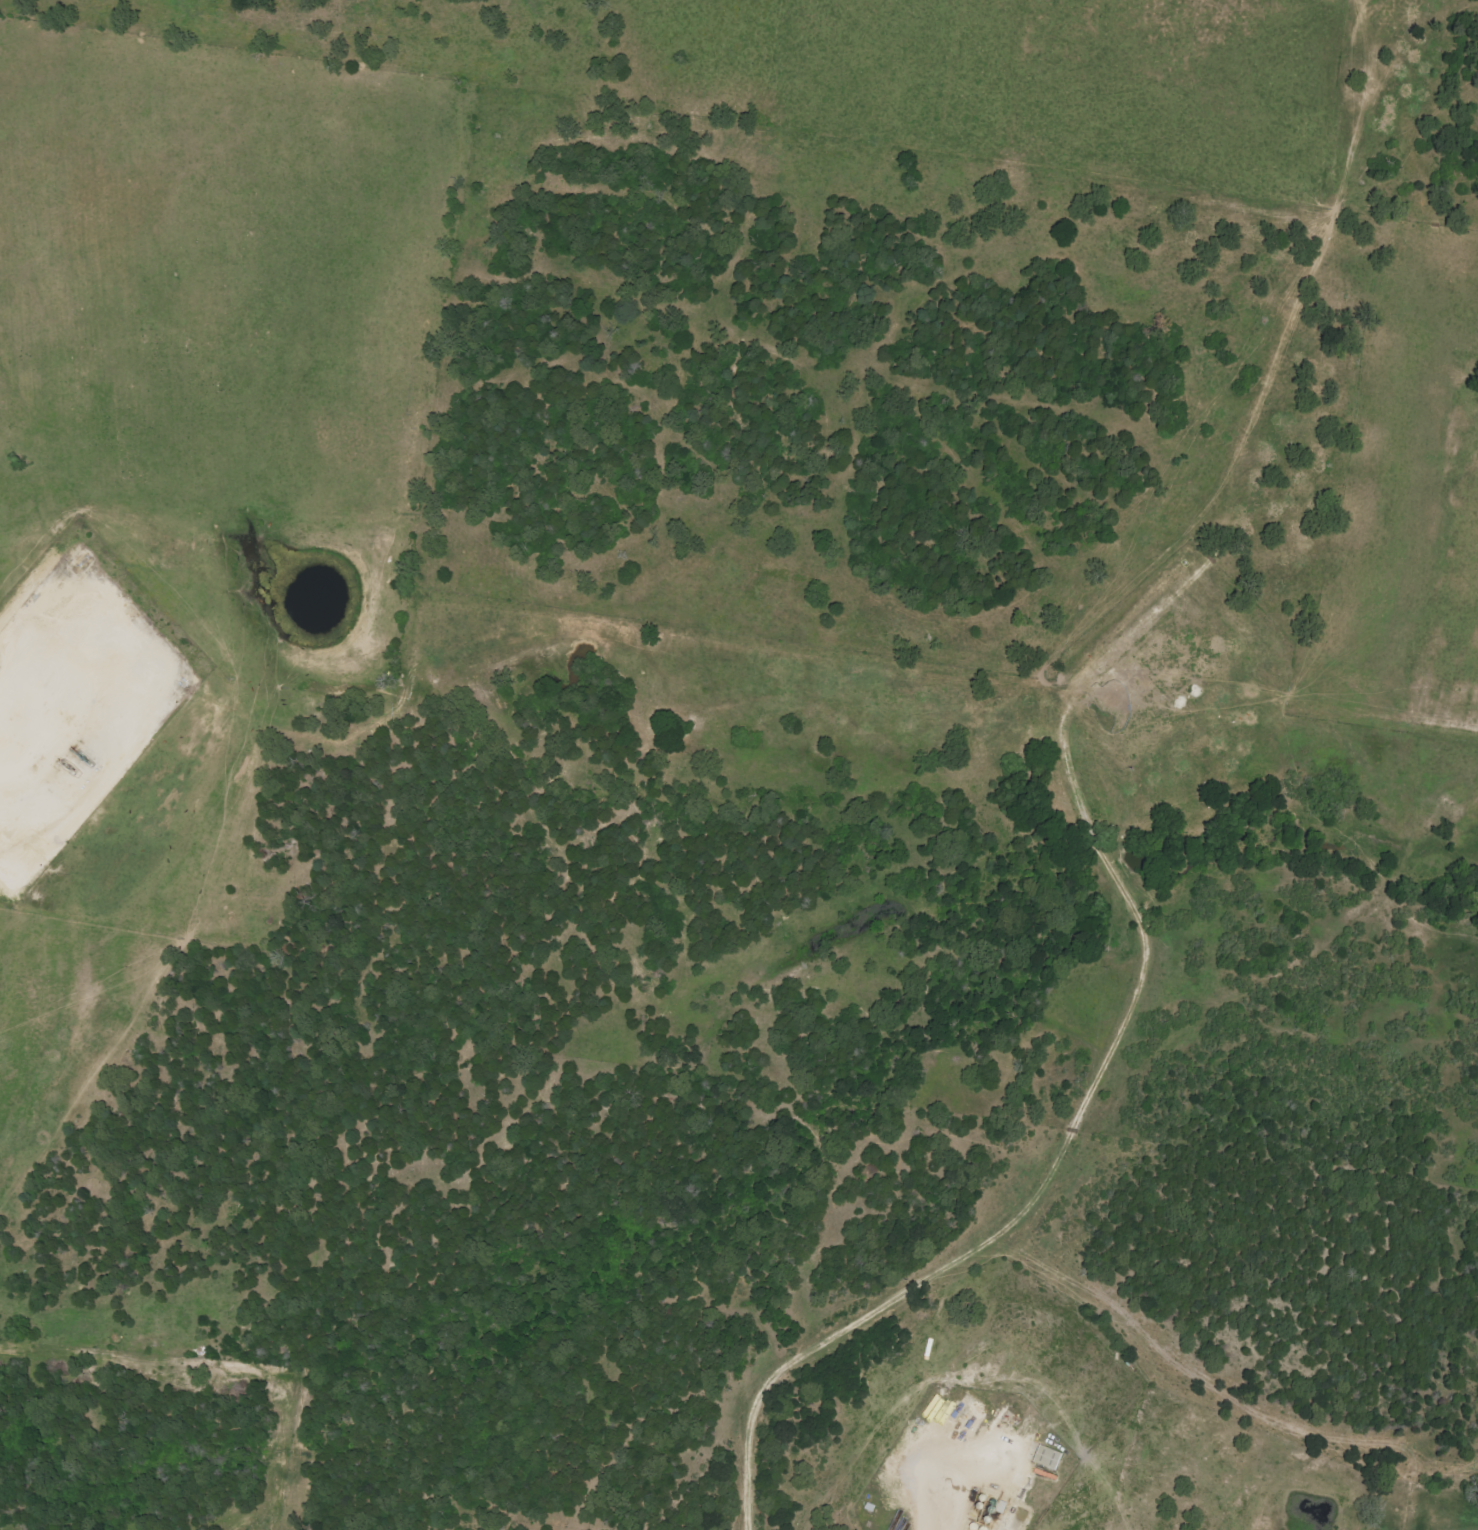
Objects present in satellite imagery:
building: (1048, 1459)
road: (938, 1519)

